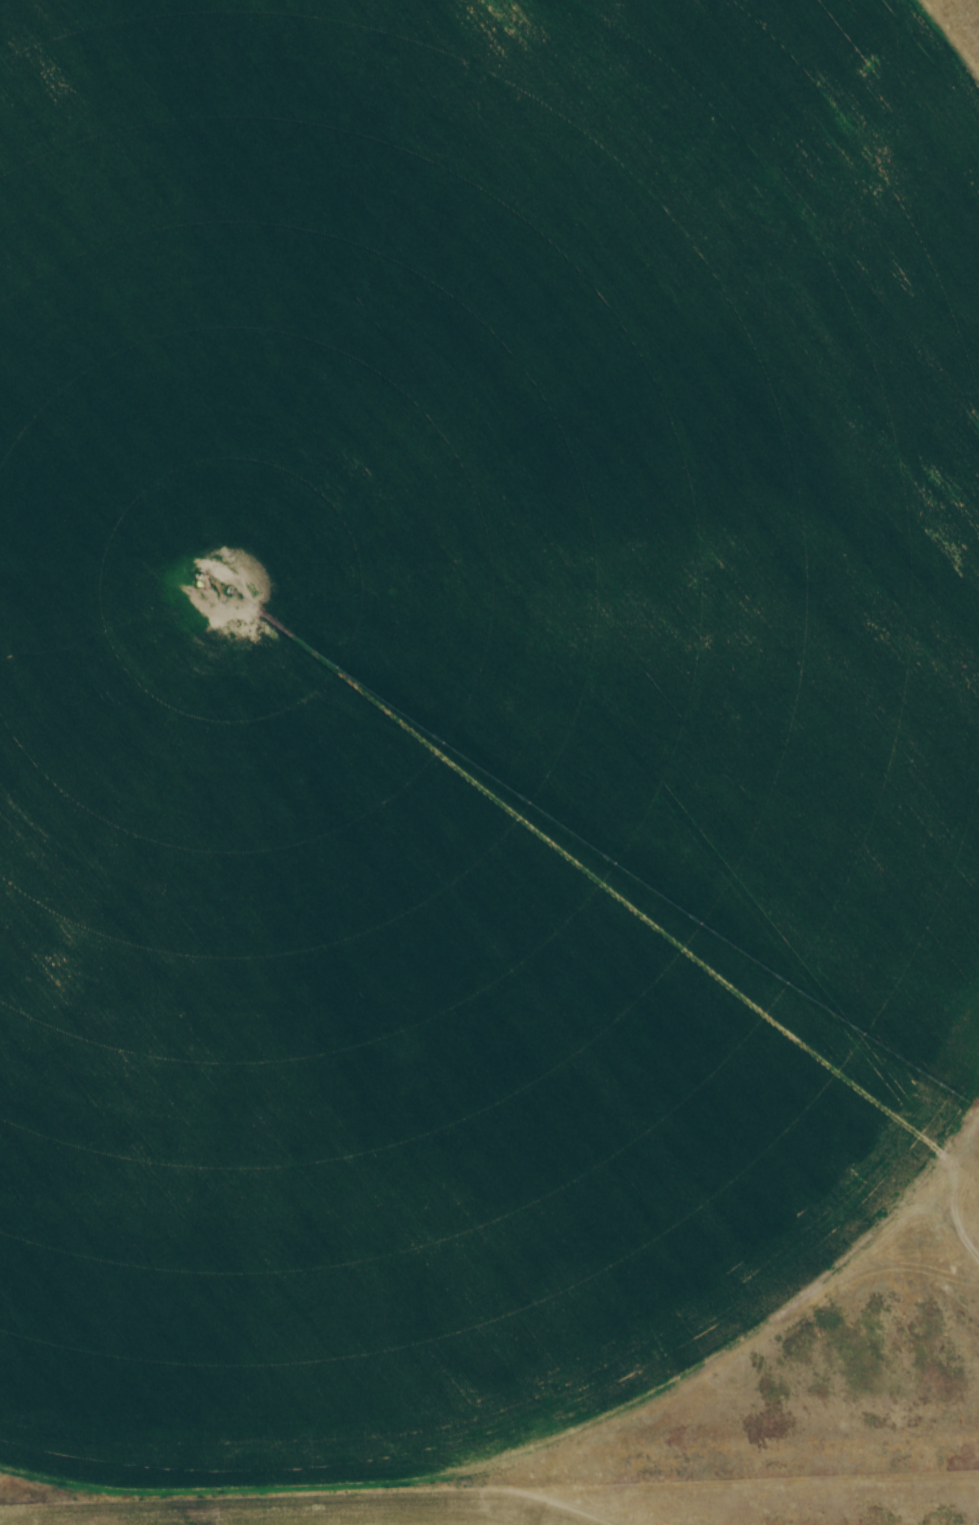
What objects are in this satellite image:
crop: (465, 714)

